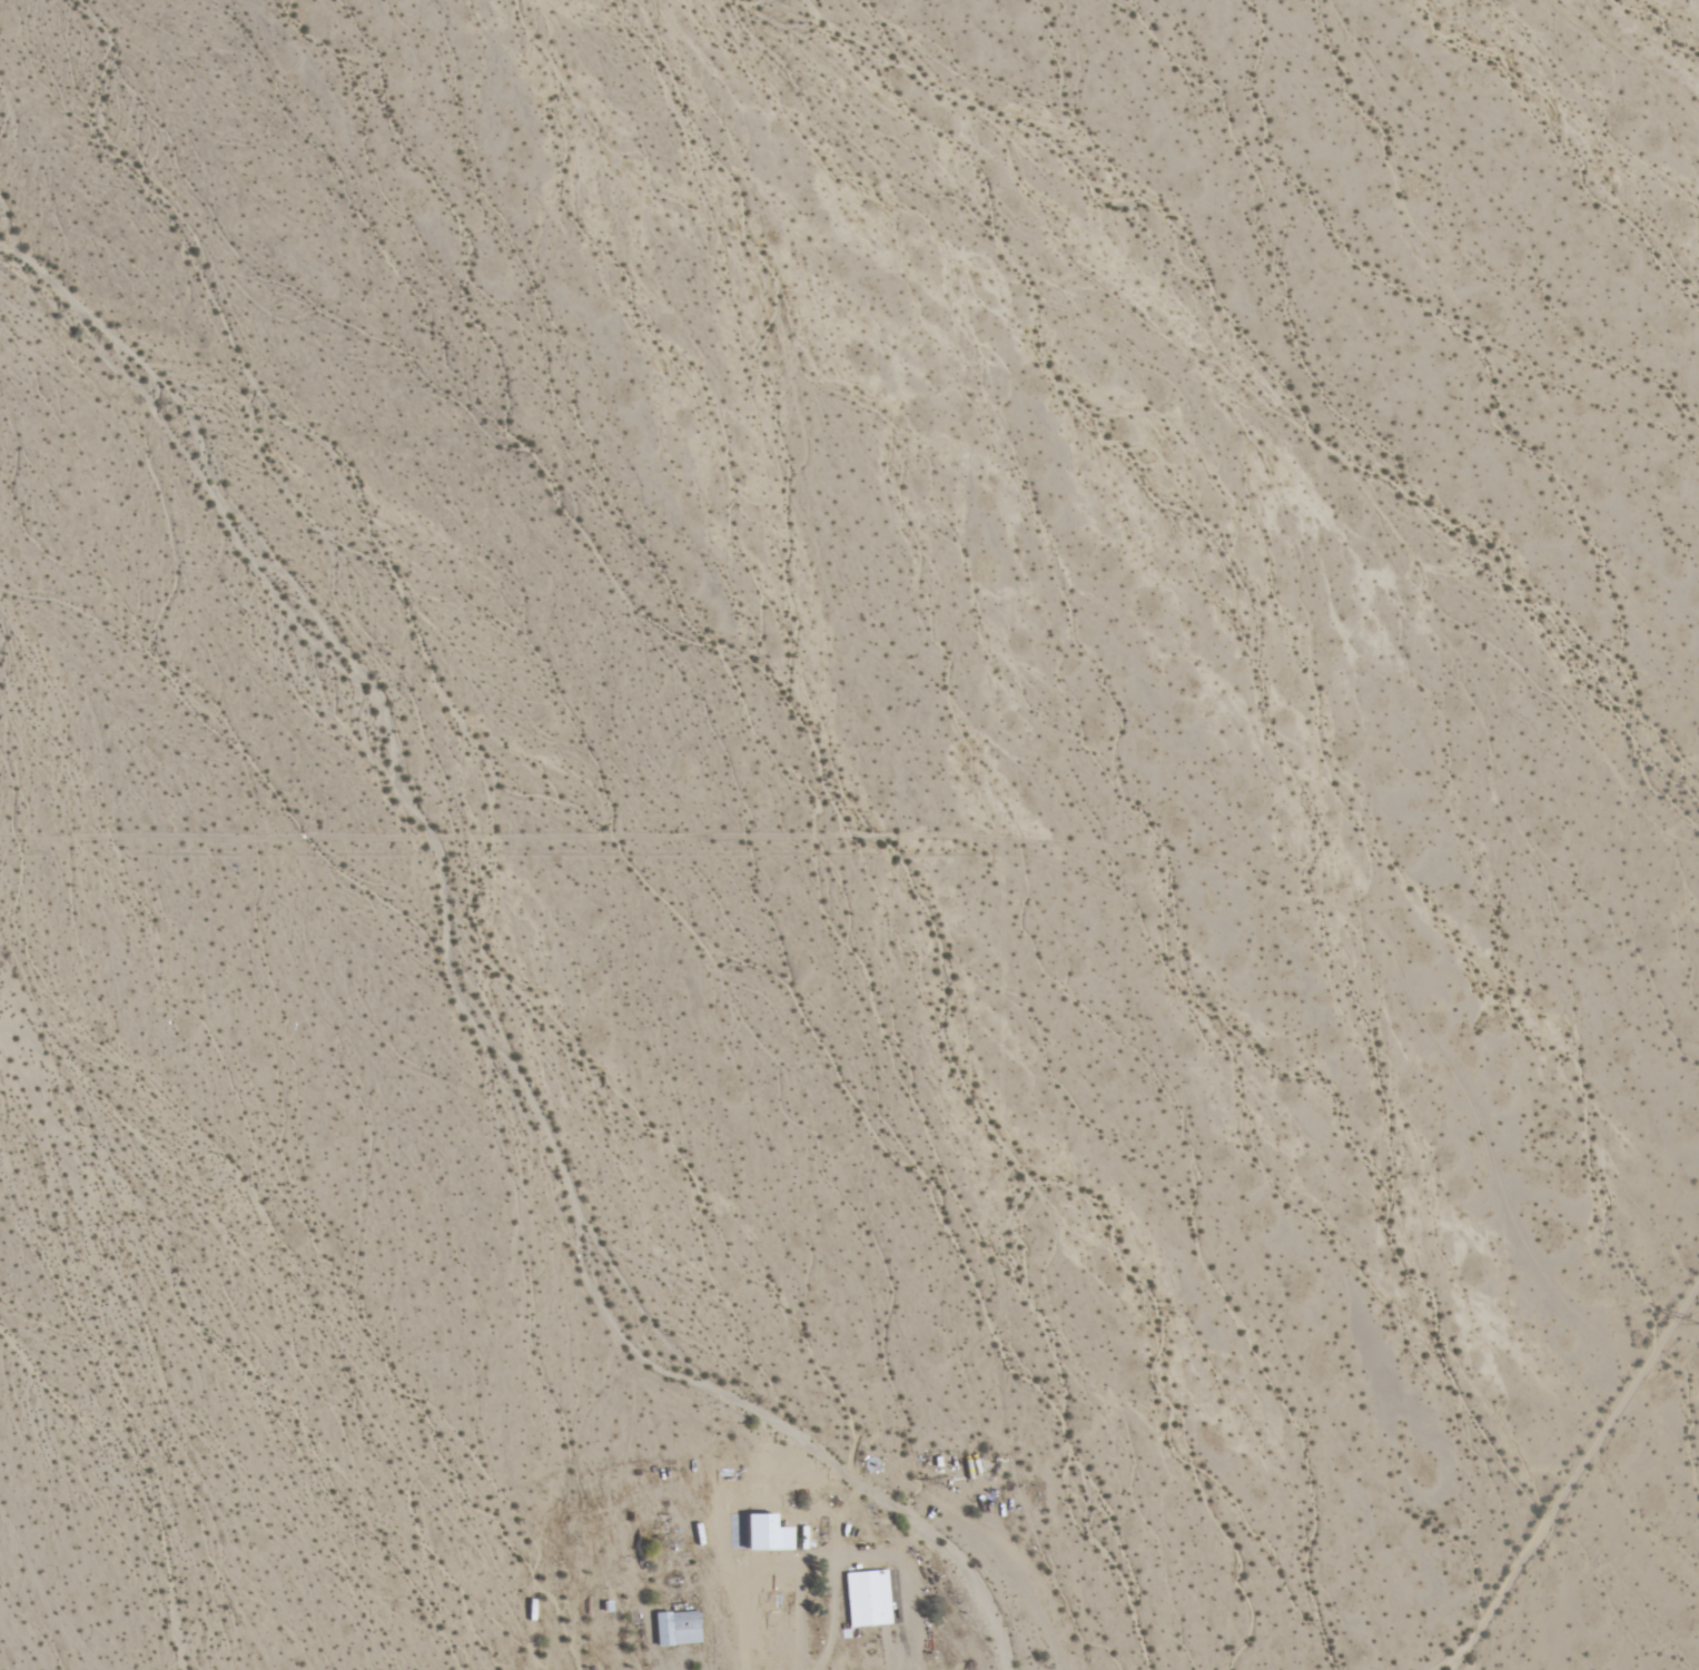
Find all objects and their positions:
road: (1573, 1471)
building: (868, 1597)
building: (685, 1619)

